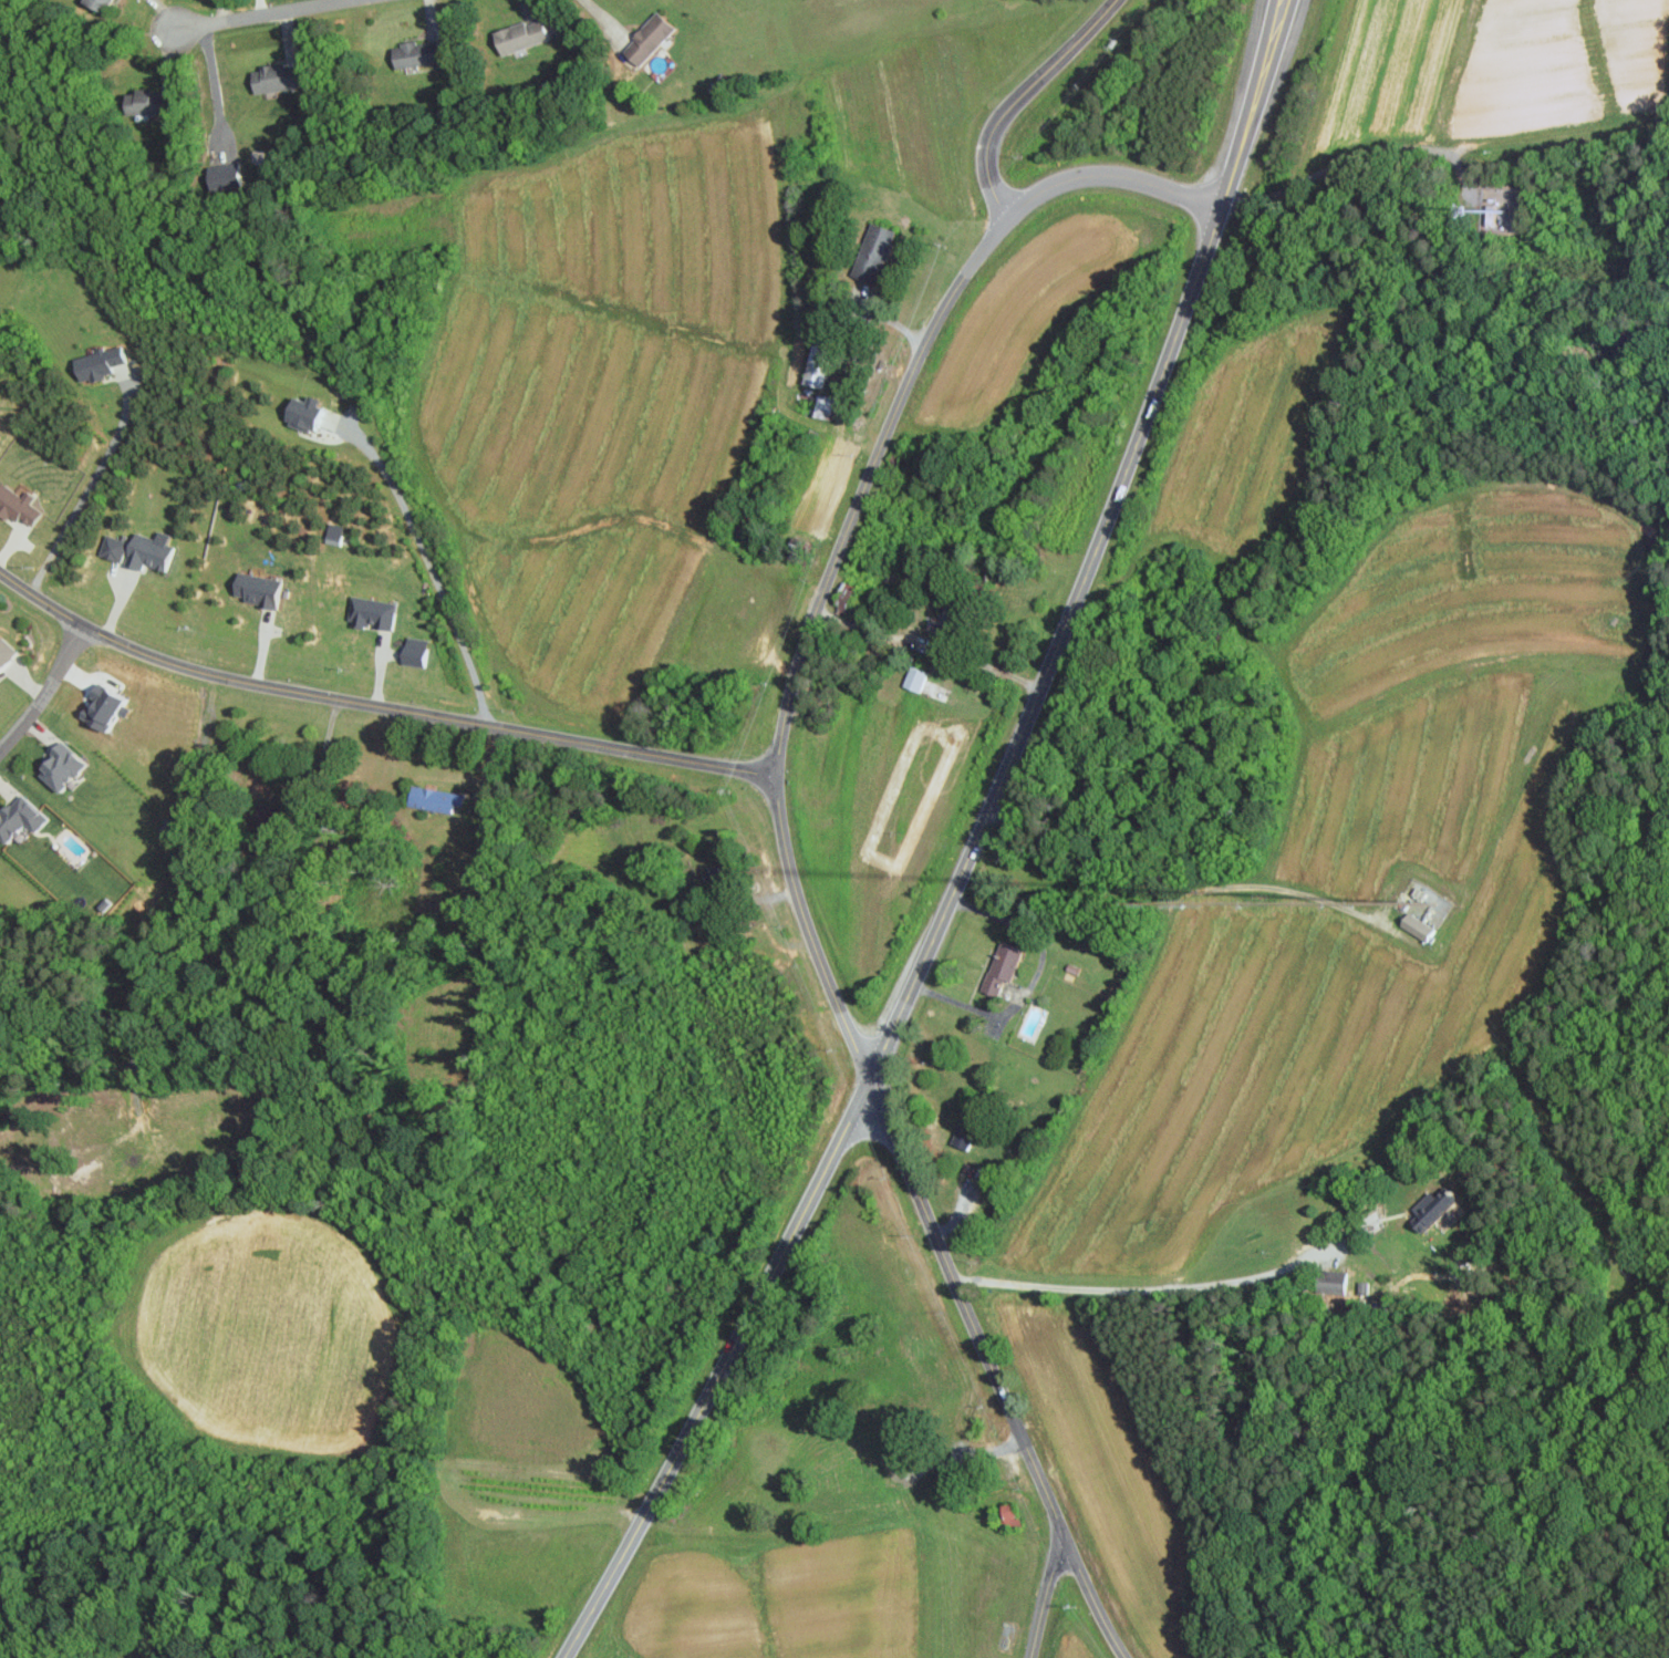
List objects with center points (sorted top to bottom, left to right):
building: (99, 3)
road: (260, 13)
road: (595, 17)
building: (516, 35)
building: (644, 38)
building: (412, 53)
building: (272, 76)
road: (214, 81)
road: (1247, 97)
road: (1016, 99)
road: (1261, 99)
building: (144, 102)
road: (1358, 153)
building: (220, 176)
building: (871, 248)
building: (95, 363)
building: (812, 365)
road: (1160, 381)
building: (821, 405)
building: (300, 413)
road: (84, 490)
building: (15, 506)
road: (848, 525)
building: (331, 533)
building: (137, 550)
road: (429, 567)
building: (253, 589)
building: (841, 594)
building: (369, 612)
building: (3, 651)
building: (412, 651)
road: (984, 667)
building: (913, 678)
road: (46, 690)
road: (377, 704)
road: (320, 757)
building: (56, 765)
building: (431, 798)
building: (17, 816)
building: (1412, 925)
building: (998, 966)
road: (848, 1121)
building: (960, 1136)
building: (1429, 1209)
building: (1334, 1282)
road: (1151, 1293)
road: (992, 1371)
building: (1005, 1516)
road: (1044, 1598)

